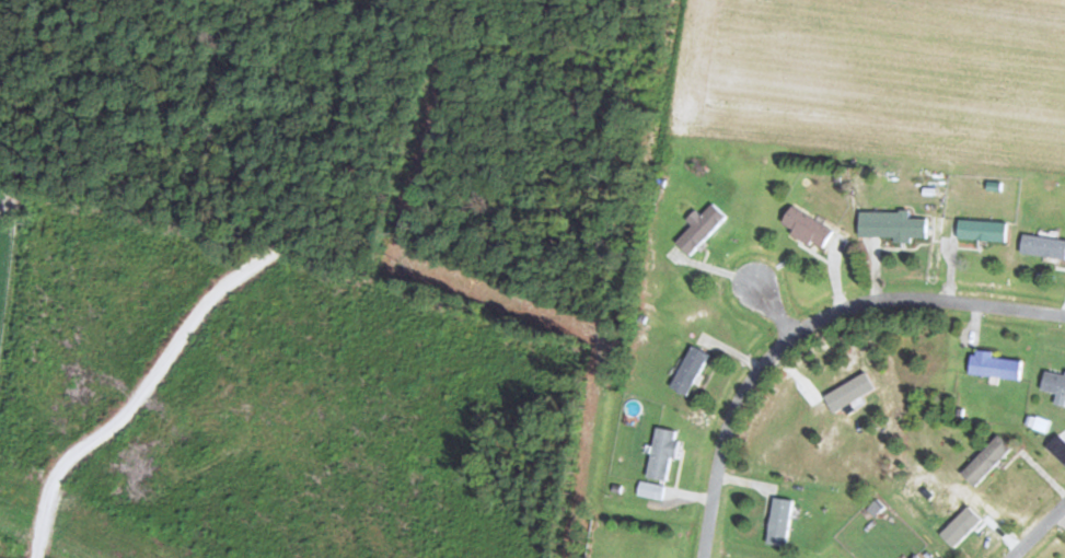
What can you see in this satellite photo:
road: (809, 23)
road: (957, 59)
building: (893, 225)
building: (702, 228)
building: (809, 228)
building: (984, 230)
building: (1044, 246)
road: (765, 305)
road: (167, 322)
road: (807, 324)
building: (996, 367)
building: (691, 370)
building: (1054, 383)
building: (664, 452)
building: (649, 489)
building: (782, 521)
road: (1034, 527)

